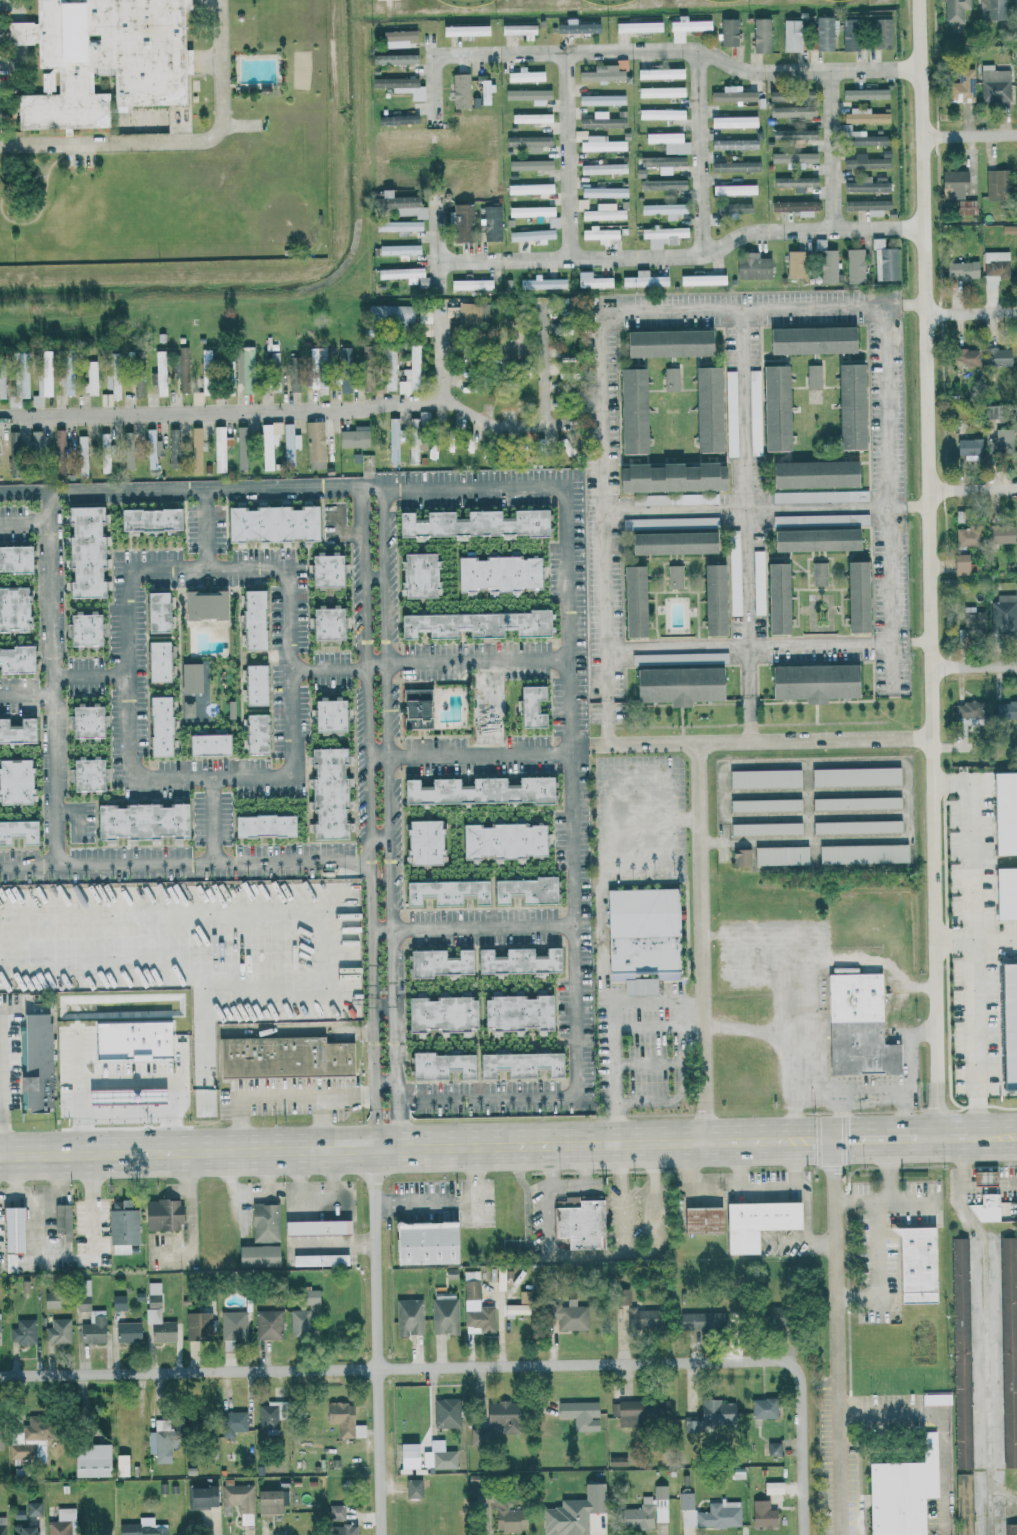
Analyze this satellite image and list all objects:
building: (993, 9)
building: (954, 10)
building: (575, 26)
building: (637, 26)
building: (685, 26)
building: (464, 29)
building: (518, 30)
building: (727, 31)
building: (824, 32)
building: (881, 32)
building: (848, 33)
building: (759, 34)
building: (790, 34)
building: (396, 38)
road: (641, 49)
building: (100, 58)
building: (392, 58)
building: (602, 72)
building: (659, 72)
building: (525, 75)
building: (994, 83)
building: (400, 85)
building: (961, 86)
building: (459, 90)
building: (485, 91)
building: (660, 91)
building: (863, 93)
building: (528, 94)
building: (730, 94)
building: (788, 97)
building: (601, 99)
building: (790, 110)
building: (660, 113)
building: (862, 115)
building: (530, 117)
building: (396, 118)
building: (605, 119)
building: (732, 121)
building: (793, 133)
building: (579, 134)
road: (968, 134)
building: (858, 137)
building: (527, 141)
building: (668, 141)
building: (733, 143)
building: (600, 144)
road: (182, 146)
road: (832, 149)
road: (700, 151)
road: (566, 154)
building: (776, 157)
building: (798, 159)
building: (864, 161)
building: (662, 162)
building: (529, 164)
building: (734, 165)
building: (602, 168)
building: (1016, 169)
building: (794, 182)
building: (865, 183)
building: (953, 183)
building: (998, 184)
building: (662, 185)
building: (529, 188)
building: (733, 189)
building: (604, 191)
building: (399, 203)
building: (581, 203)
building: (867, 205)
building: (795, 206)
building: (965, 206)
building: (734, 207)
building: (663, 209)
building: (530, 211)
building: (603, 212)
building: (460, 221)
building: (552, 221)
building: (490, 222)
building: (397, 225)
building: (600, 233)
building: (662, 234)
building: (530, 235)
road: (438, 241)
building: (398, 249)
road: (683, 253)
building: (883, 260)
building: (825, 262)
building: (793, 263)
building: (750, 265)
building: (853, 265)
building: (994, 267)
building: (961, 269)
building: (405, 275)
building: (643, 279)
building: (701, 279)
building: (591, 280)
building: (542, 282)
building: (470, 283)
road: (903, 305)
building: (450, 310)
road: (723, 311)
road: (970, 312)
building: (389, 313)
building: (471, 313)
building: (809, 339)
building: (666, 342)
building: (491, 350)
building: (320, 353)
building: (343, 354)
road: (441, 354)
building: (965, 356)
building: (997, 356)
building: (181, 367)
building: (244, 367)
building: (389, 367)
building: (409, 371)
building: (160, 372)
building: (274, 372)
building: (812, 375)
building: (228, 376)
building: (89, 377)
building: (670, 378)
building: (67, 380)
building: (292, 381)
building: (343, 381)
building: (2, 385)
building: (41, 385)
building: (112, 385)
building: (18, 387)
building: (849, 405)
building: (774, 407)
building: (706, 408)
building: (631, 410)
road: (337, 411)
building: (415, 435)
building: (353, 436)
building: (34, 438)
building: (313, 440)
building: (392, 440)
building: (1002, 441)
building: (267, 443)
building: (289, 443)
building: (240, 446)
building: (968, 446)
building: (173, 447)
building: (151, 448)
building: (219, 448)
building: (127, 449)
building: (195, 449)
building: (57, 451)
building: (104, 452)
building: (81, 455)
building: (812, 473)
building: (669, 476)
road: (972, 488)
road: (26, 490)
building: (818, 496)
building: (695, 498)
building: (650, 499)
road: (767, 508)
building: (148, 518)
building: (669, 521)
road: (26, 522)
building: (272, 522)
building: (472, 523)
road: (210, 527)
road: (747, 527)
building: (1001, 534)
building: (965, 536)
building: (814, 539)
building: (671, 542)
building: (84, 551)
building: (14, 557)
building: (959, 563)
building: (757, 565)
road: (204, 566)
building: (324, 568)
road: (930, 568)
building: (733, 572)
building: (495, 573)
building: (818, 573)
road: (376, 574)
building: (417, 575)
building: (673, 576)
building: (855, 596)
building: (775, 597)
building: (712, 599)
building: (632, 600)
building: (203, 604)
building: (14, 609)
road: (574, 610)
building: (154, 611)
building: (1003, 614)
building: (251, 619)
building: (972, 621)
building: (324, 622)
building: (474, 624)
building: (82, 628)
road: (768, 645)
building: (698, 657)
road: (433, 659)
building: (15, 660)
building: (156, 661)
road: (974, 664)
road: (92, 675)
building: (190, 677)
road: (57, 680)
building: (811, 682)
building: (253, 684)
building: (676, 684)
road: (29, 695)
building: (529, 706)
road: (368, 707)
road: (388, 707)
building: (414, 708)
building: (188, 709)
building: (1004, 709)
building: (327, 714)
building: (967, 716)
building: (85, 720)
building: (158, 725)
building: (18, 730)
building: (253, 733)
building: (207, 743)
road: (769, 743)
road: (592, 746)
road: (474, 752)
building: (85, 773)
building: (854, 776)
building: (763, 778)
building: (14, 781)
building: (477, 790)
road: (612, 790)
building: (327, 792)
road: (817, 792)
building: (855, 802)
building: (763, 804)
road: (727, 806)
road: (813, 807)
building: (1004, 812)
road: (683, 814)
road: (818, 819)
building: (140, 821)
building: (261, 825)
building: (855, 826)
road: (219, 828)
building: (764, 828)
building: (17, 831)
road: (381, 836)
building: (501, 840)
building: (422, 841)
road: (807, 841)
building: (861, 853)
building: (779, 855)
building: (740, 856)
road: (185, 868)
building: (523, 890)
building: (444, 892)
building: (1005, 893)
road: (242, 918)
road: (487, 926)
road: (383, 928)
building: (641, 937)
road: (993, 942)
road: (953, 943)
road: (970, 943)
road: (702, 944)
building: (517, 960)
building: (438, 962)
road: (866, 963)
road: (373, 967)
road: (395, 967)
road: (655, 994)
road: (787, 1006)
road: (385, 1007)
building: (517, 1012)
building: (440, 1014)
road: (692, 1016)
building: (1008, 1024)
building: (856, 1026)
road: (746, 1028)
building: (129, 1040)
road: (396, 1053)
building: (281, 1056)
building: (34, 1063)
building: (518, 1064)
building: (439, 1065)
road: (1, 1070)
road: (374, 1070)
road: (908, 1074)
road: (159, 1081)
road: (1, 1084)
road: (2, 1084)
road: (386, 1084)
road: (844, 1093)
road: (282, 1095)
road: (408, 1099)
road: (397, 1117)
road: (840, 1117)
road: (323, 1122)
road: (967, 1137)
road: (385, 1139)
road: (876, 1139)
traffic signals: (834, 1140)
road: (416, 1148)
road: (584, 1171)
building: (982, 1177)
road: (766, 1185)
road: (8, 1191)
road: (542, 1191)
road: (35, 1199)
road: (451, 1202)
road: (91, 1206)
building: (985, 1208)
building: (1007, 1210)
building: (161, 1215)
road: (806, 1217)
building: (61, 1220)
building: (700, 1220)
road: (192, 1221)
building: (263, 1222)
building: (577, 1222)
road: (879, 1222)
building: (754, 1223)
road: (36, 1227)
building: (122, 1227)
building: (315, 1227)
building: (10, 1229)
road: (805, 1242)
building: (422, 1243)
building: (256, 1255)
building: (318, 1259)
building: (9, 1262)
building: (915, 1265)
building: (81, 1294)
building: (309, 1295)
building: (621, 1296)
building: (49, 1299)
building: (117, 1302)
building: (475, 1307)
building: (515, 1309)
building: (443, 1315)
building: (156, 1316)
building: (407, 1316)
building: (568, 1316)
building: (771, 1317)
building: (636, 1318)
building: (298, 1322)
building: (699, 1322)
building: (268, 1324)
building: (197, 1326)
building: (93, 1327)
building: (232, 1328)
building: (57, 1330)
building: (22, 1331)
building: (126, 1332)
road: (985, 1332)
road: (836, 1337)
road: (376, 1342)
building: (1008, 1350)
building: (959, 1352)
road: (396, 1366)
building: (763, 1407)
building: (716, 1411)
building: (445, 1412)
building: (639, 1412)
building: (579, 1414)
building: (503, 1415)
building: (267, 1418)
building: (343, 1419)
building: (232, 1422)
road: (938, 1422)
building: (30, 1440)
building: (159, 1445)
building: (773, 1447)
road: (801, 1449)
building: (406, 1450)
building: (437, 1455)
building: (90, 1460)
building: (616, 1460)
building: (120, 1465)
building: (772, 1487)
building: (411, 1488)
road: (1002, 1490)
building: (201, 1497)
building: (894, 1498)
building: (239, 1500)
building: (268, 1501)
building: (659, 1502)
building: (963, 1503)
building: (32, 1508)
building: (502, 1510)
building: (573, 1511)
building: (335, 1512)
building: (708, 1513)
building: (637, 1514)
building: (762, 1514)
building: (2, 1525)
building: (57, 1527)
building: (141, 1527)
building: (1010, 1528)
building: (25, 1530)
building: (340, 1530)

